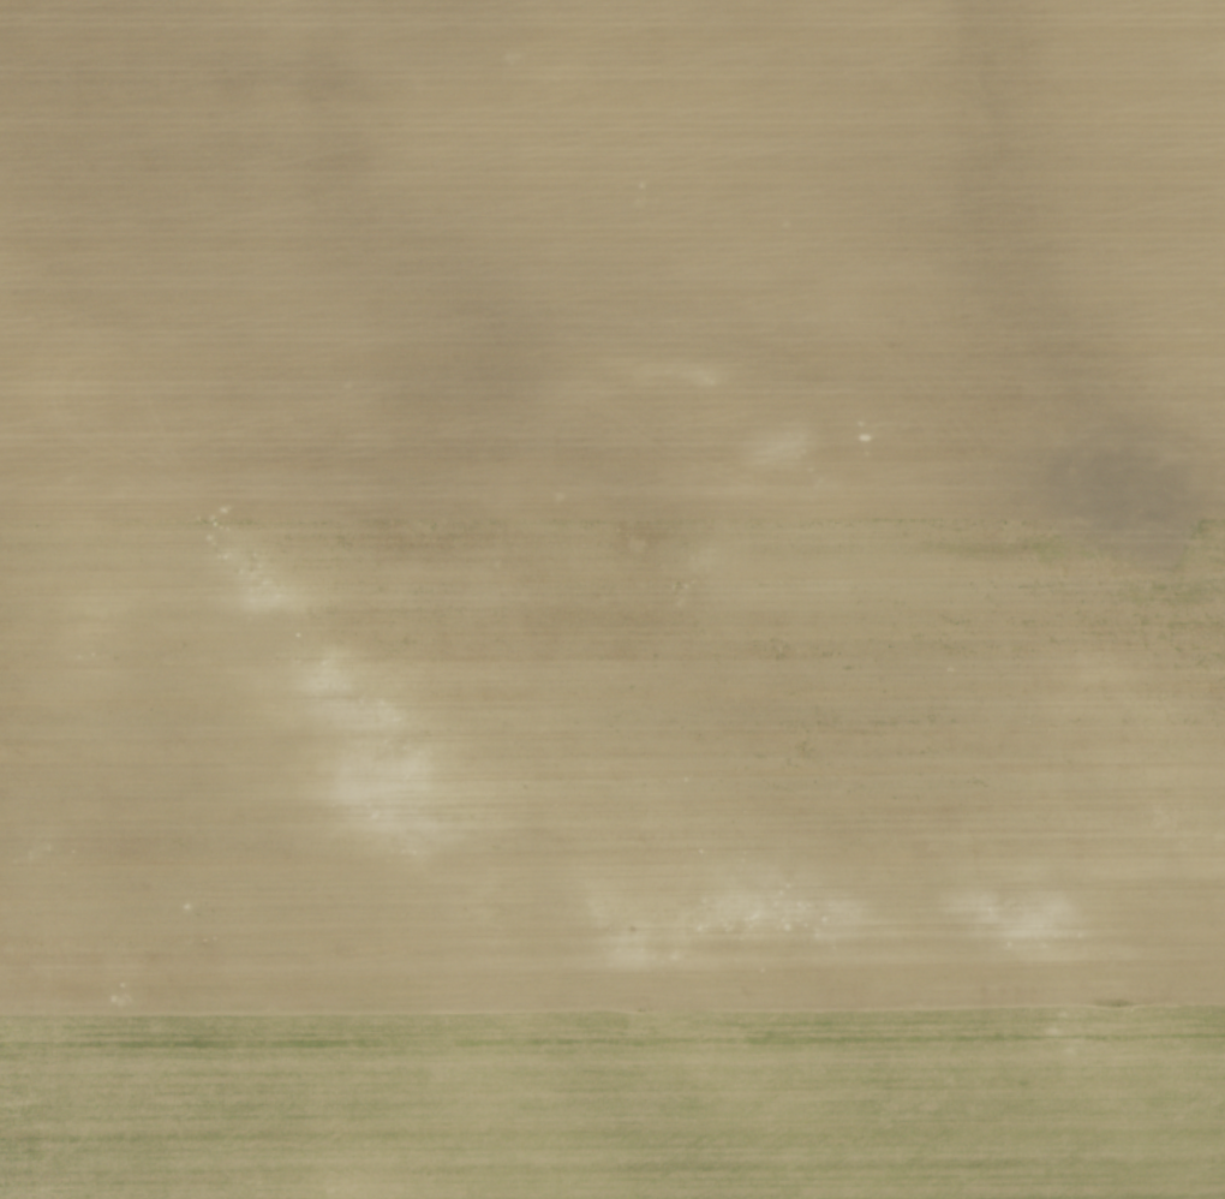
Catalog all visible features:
crop: (612, 599)

